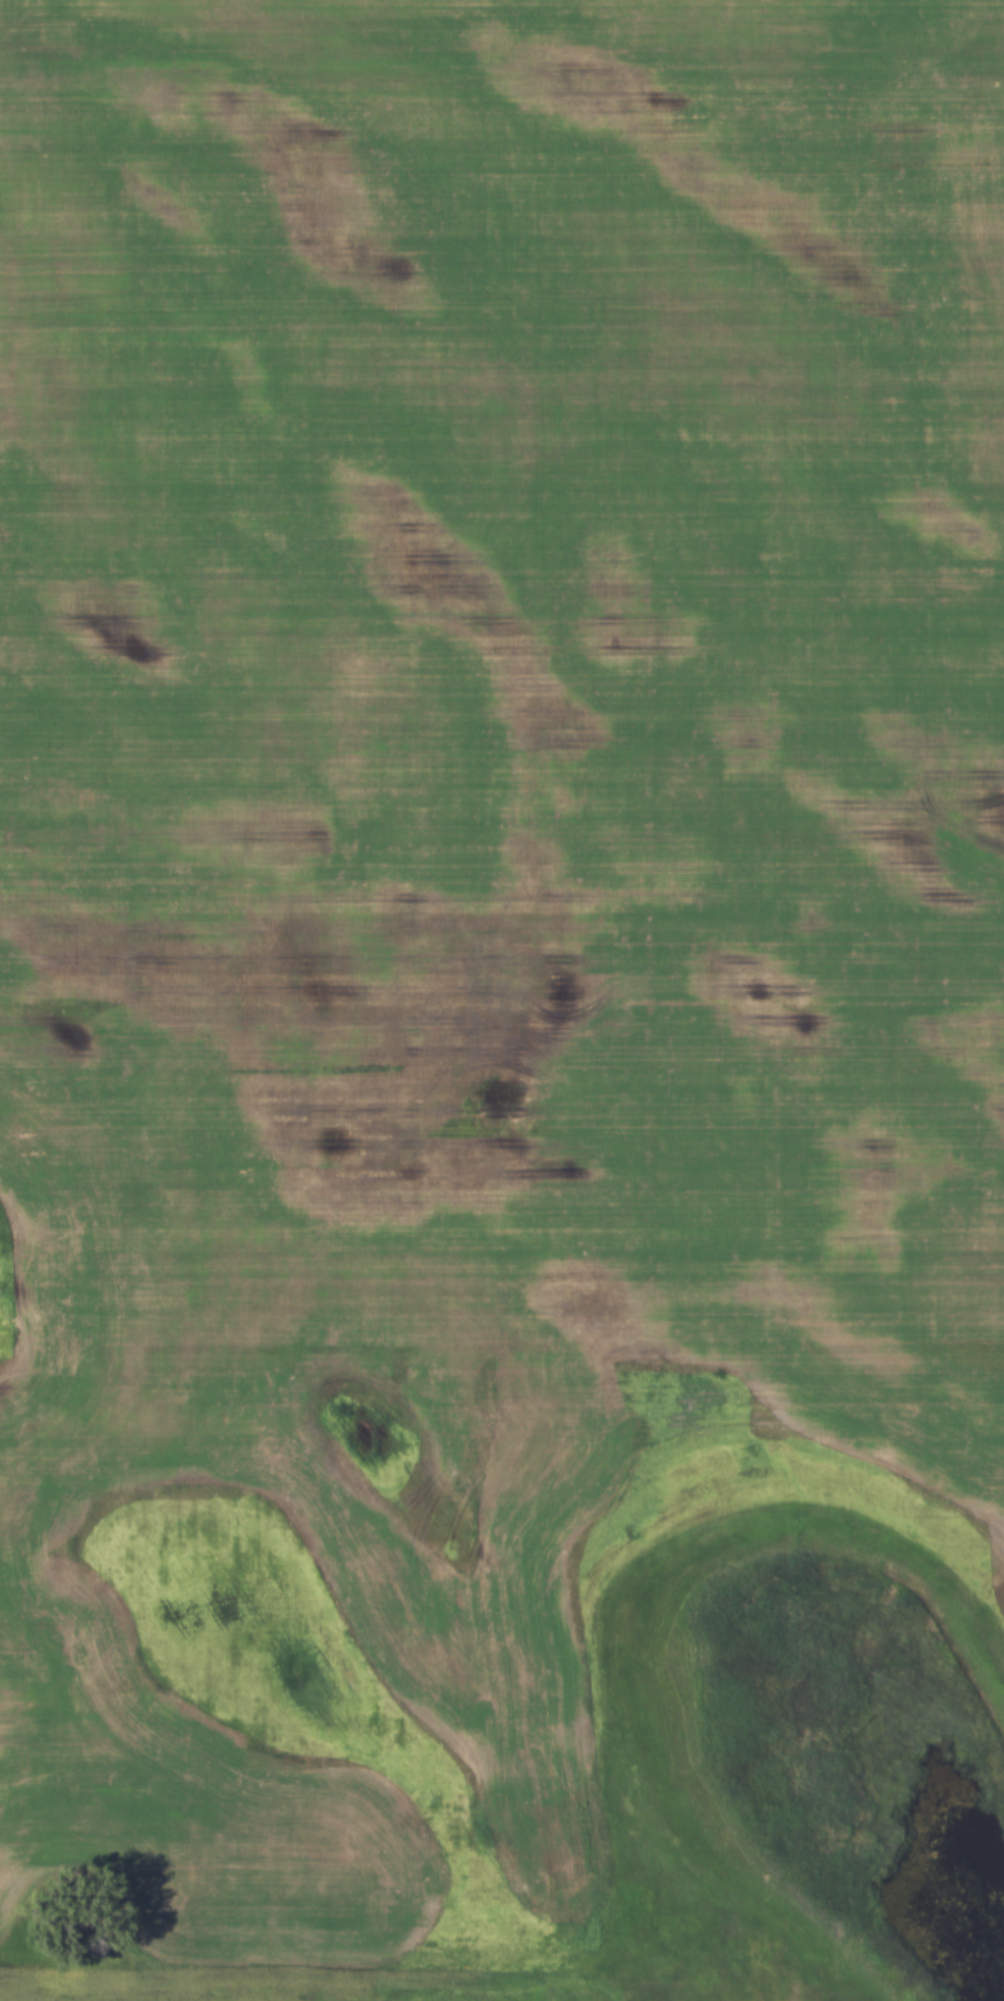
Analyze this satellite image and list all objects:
building: (670, 311)

